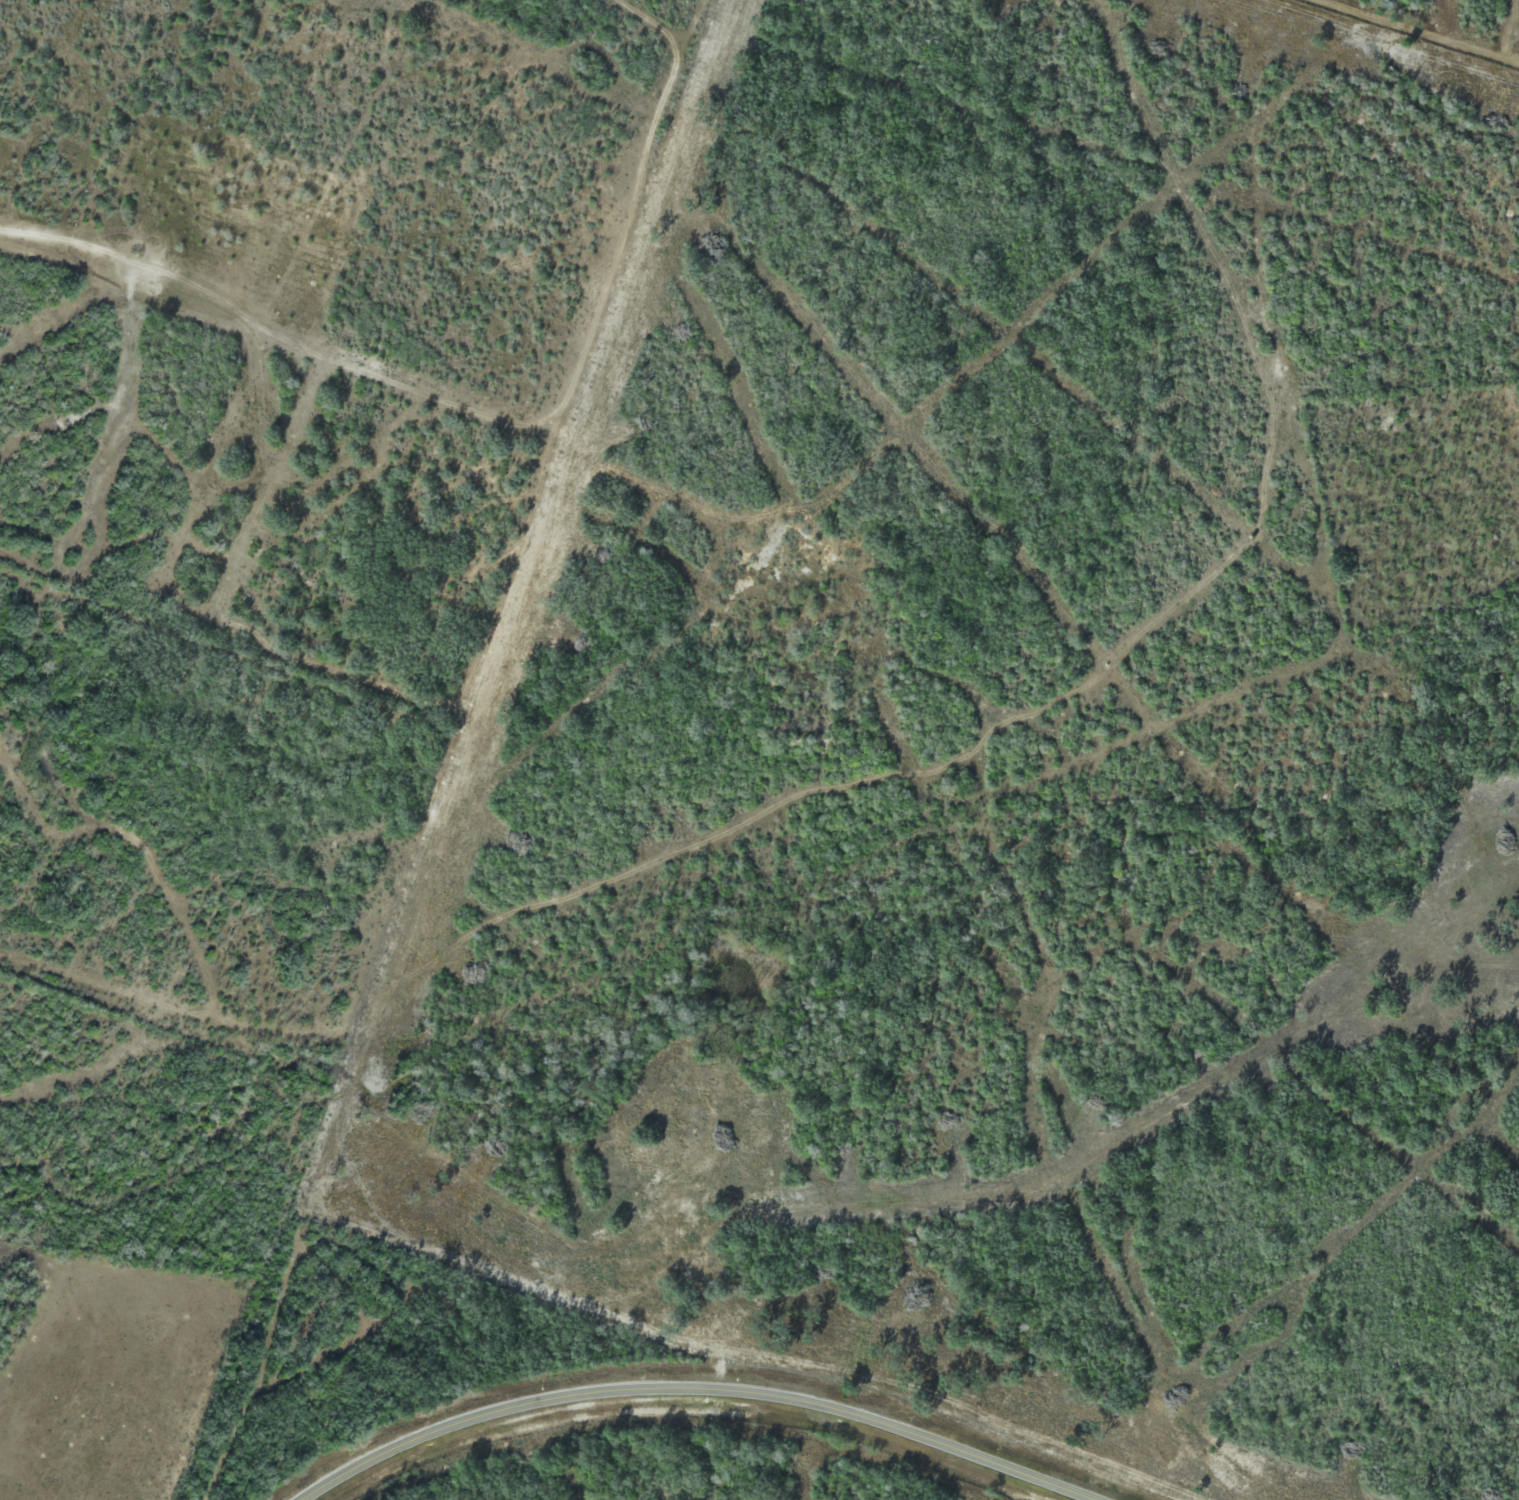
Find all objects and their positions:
road: (699, 1389)

